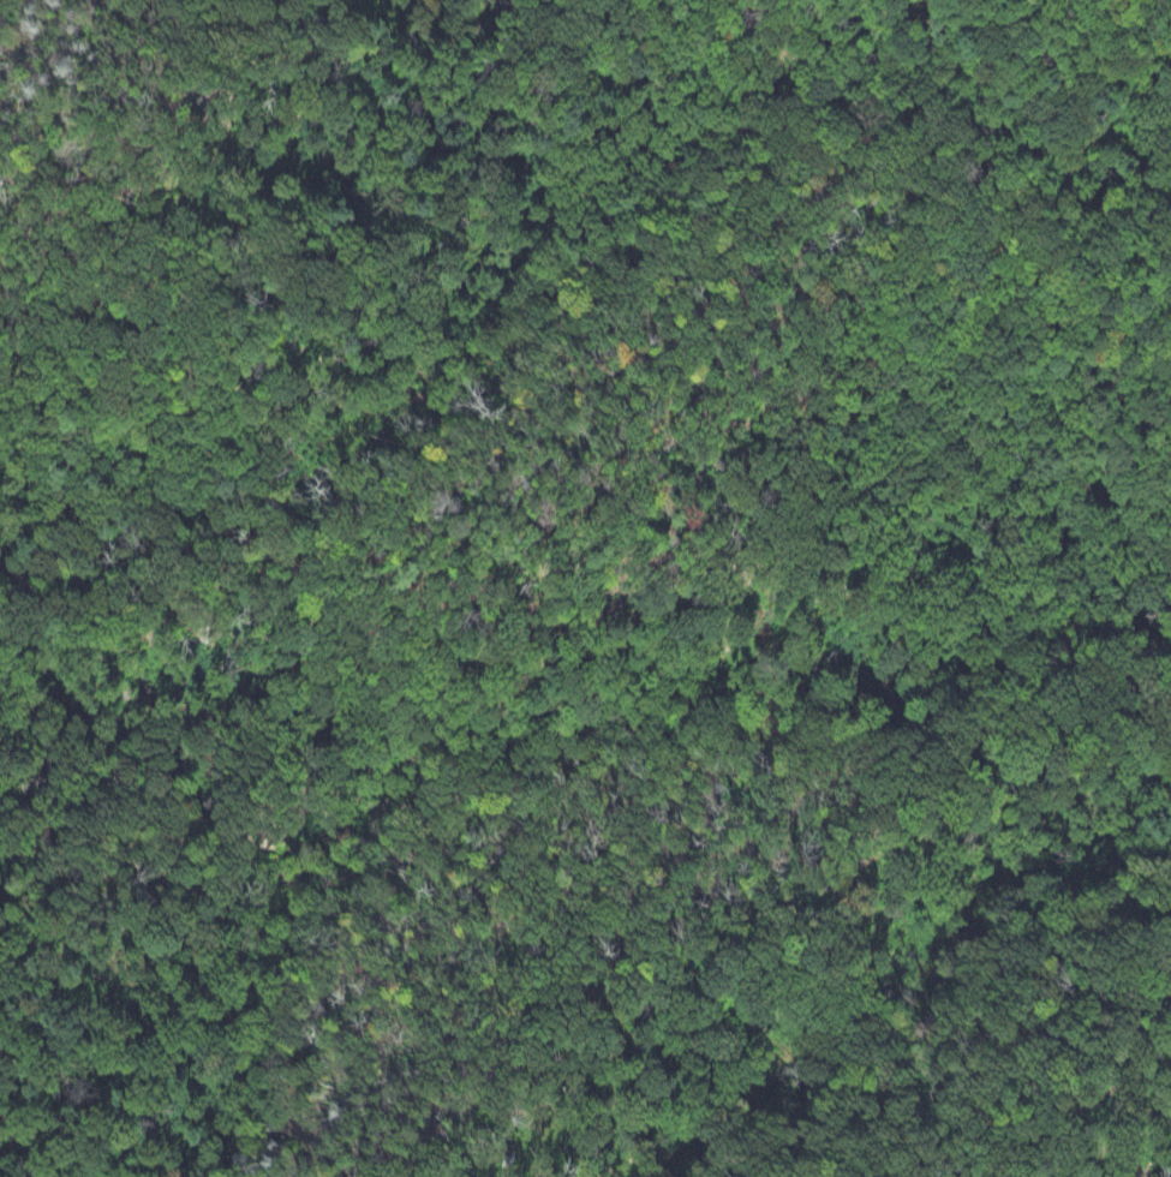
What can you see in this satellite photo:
park: (590, 591)

